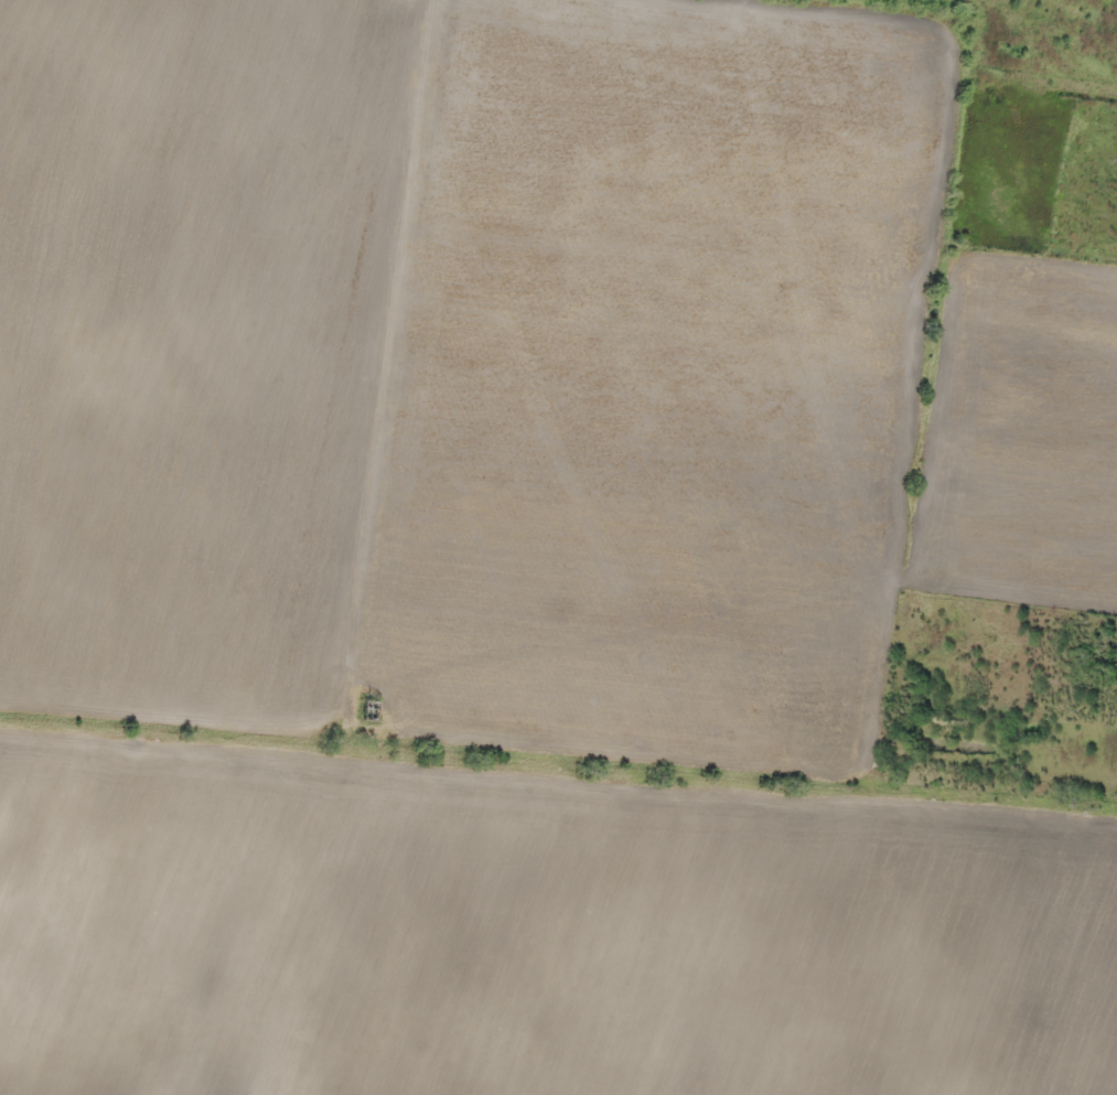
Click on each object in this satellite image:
building: (369, 708)
building: (855, 857)
building: (479, 879)
building: (1106, 919)
building: (17, 940)
building: (814, 963)
building: (150, 967)
building: (841, 983)
building: (665, 985)

